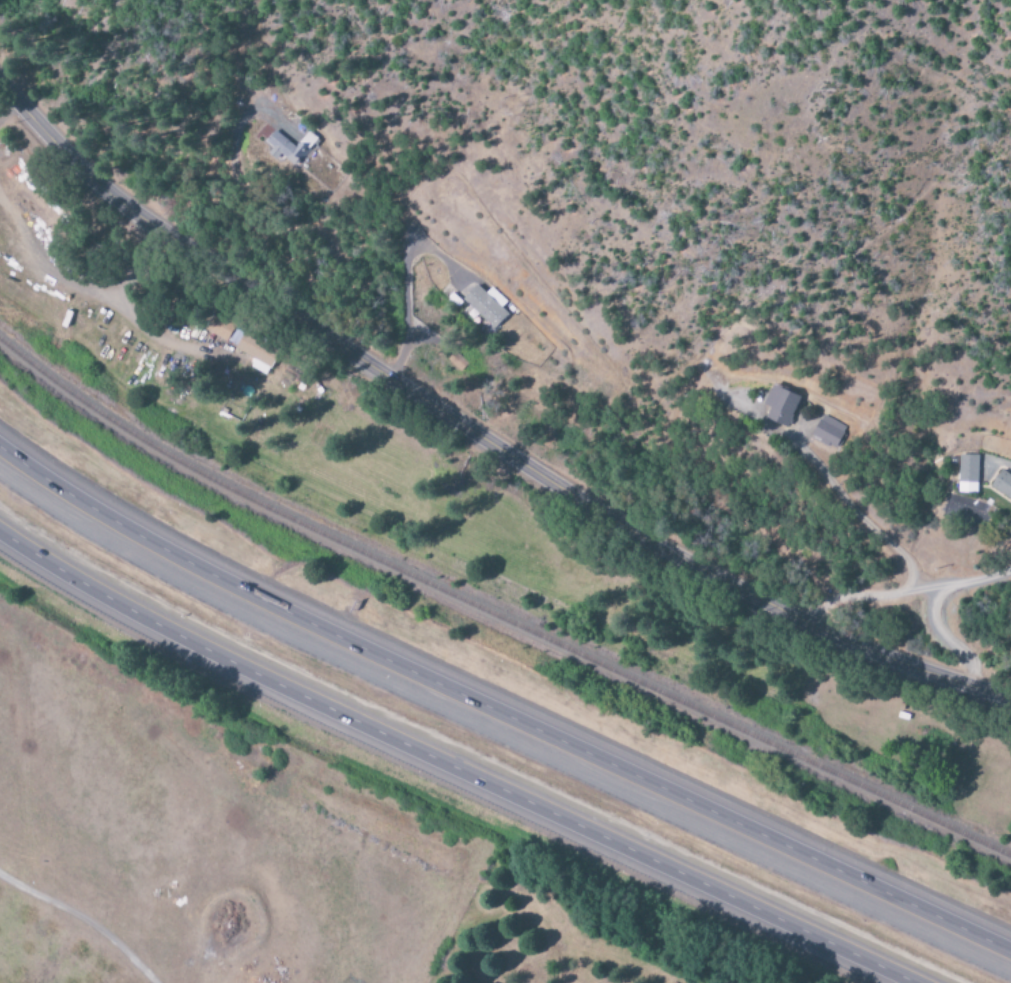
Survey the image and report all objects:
road: (400, 283)
building: (486, 305)
building: (220, 327)
building: (256, 354)
building: (780, 406)
building: (828, 431)
road: (477, 435)
building: (968, 474)
building: (1002, 484)
railway: (499, 627)
road: (498, 712)
road: (451, 766)

